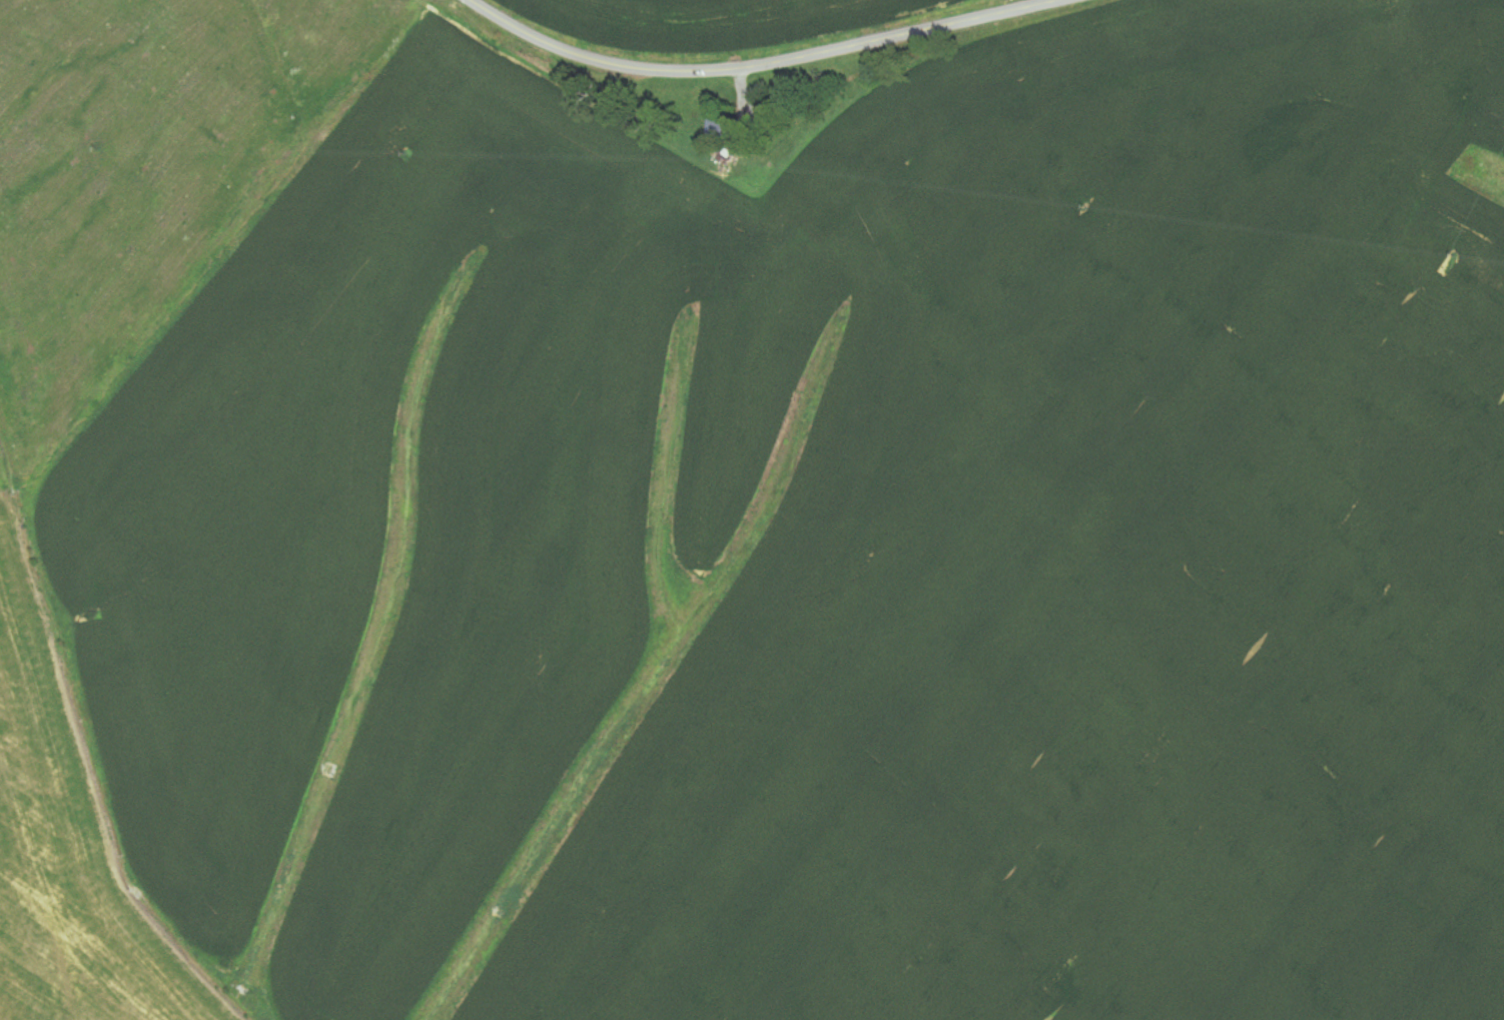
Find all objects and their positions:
road: (755, 66)

